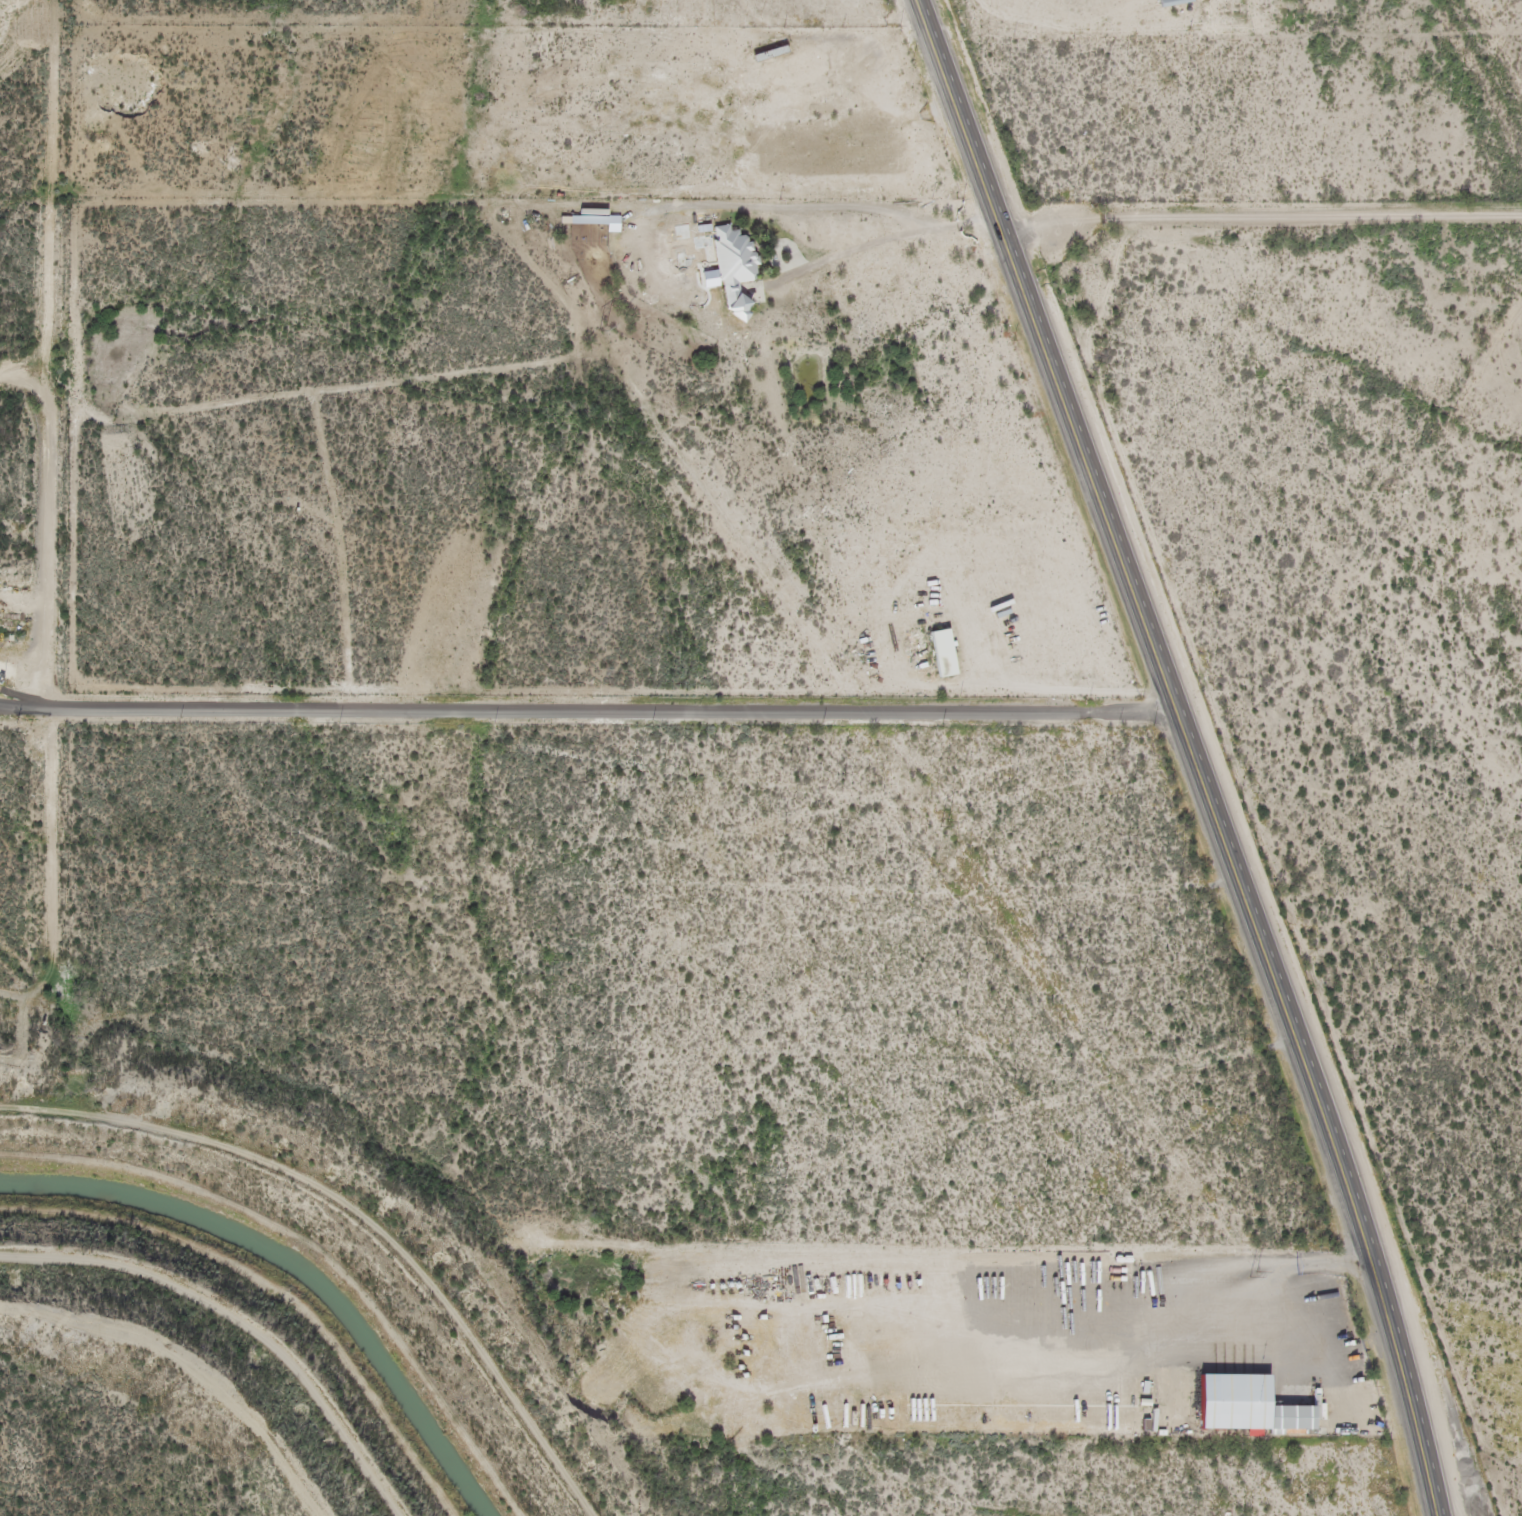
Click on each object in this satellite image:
road: (1445, 8)
building: (582, 223)
road: (1271, 272)
building: (730, 274)
power tower: (602, 328)
road: (1371, 620)
building: (937, 655)
road: (1199, 750)
power tower: (951, 824)
road: (328, 1036)
road: (529, 1058)
power tower: (1258, 1275)
building: (1285, 1422)

